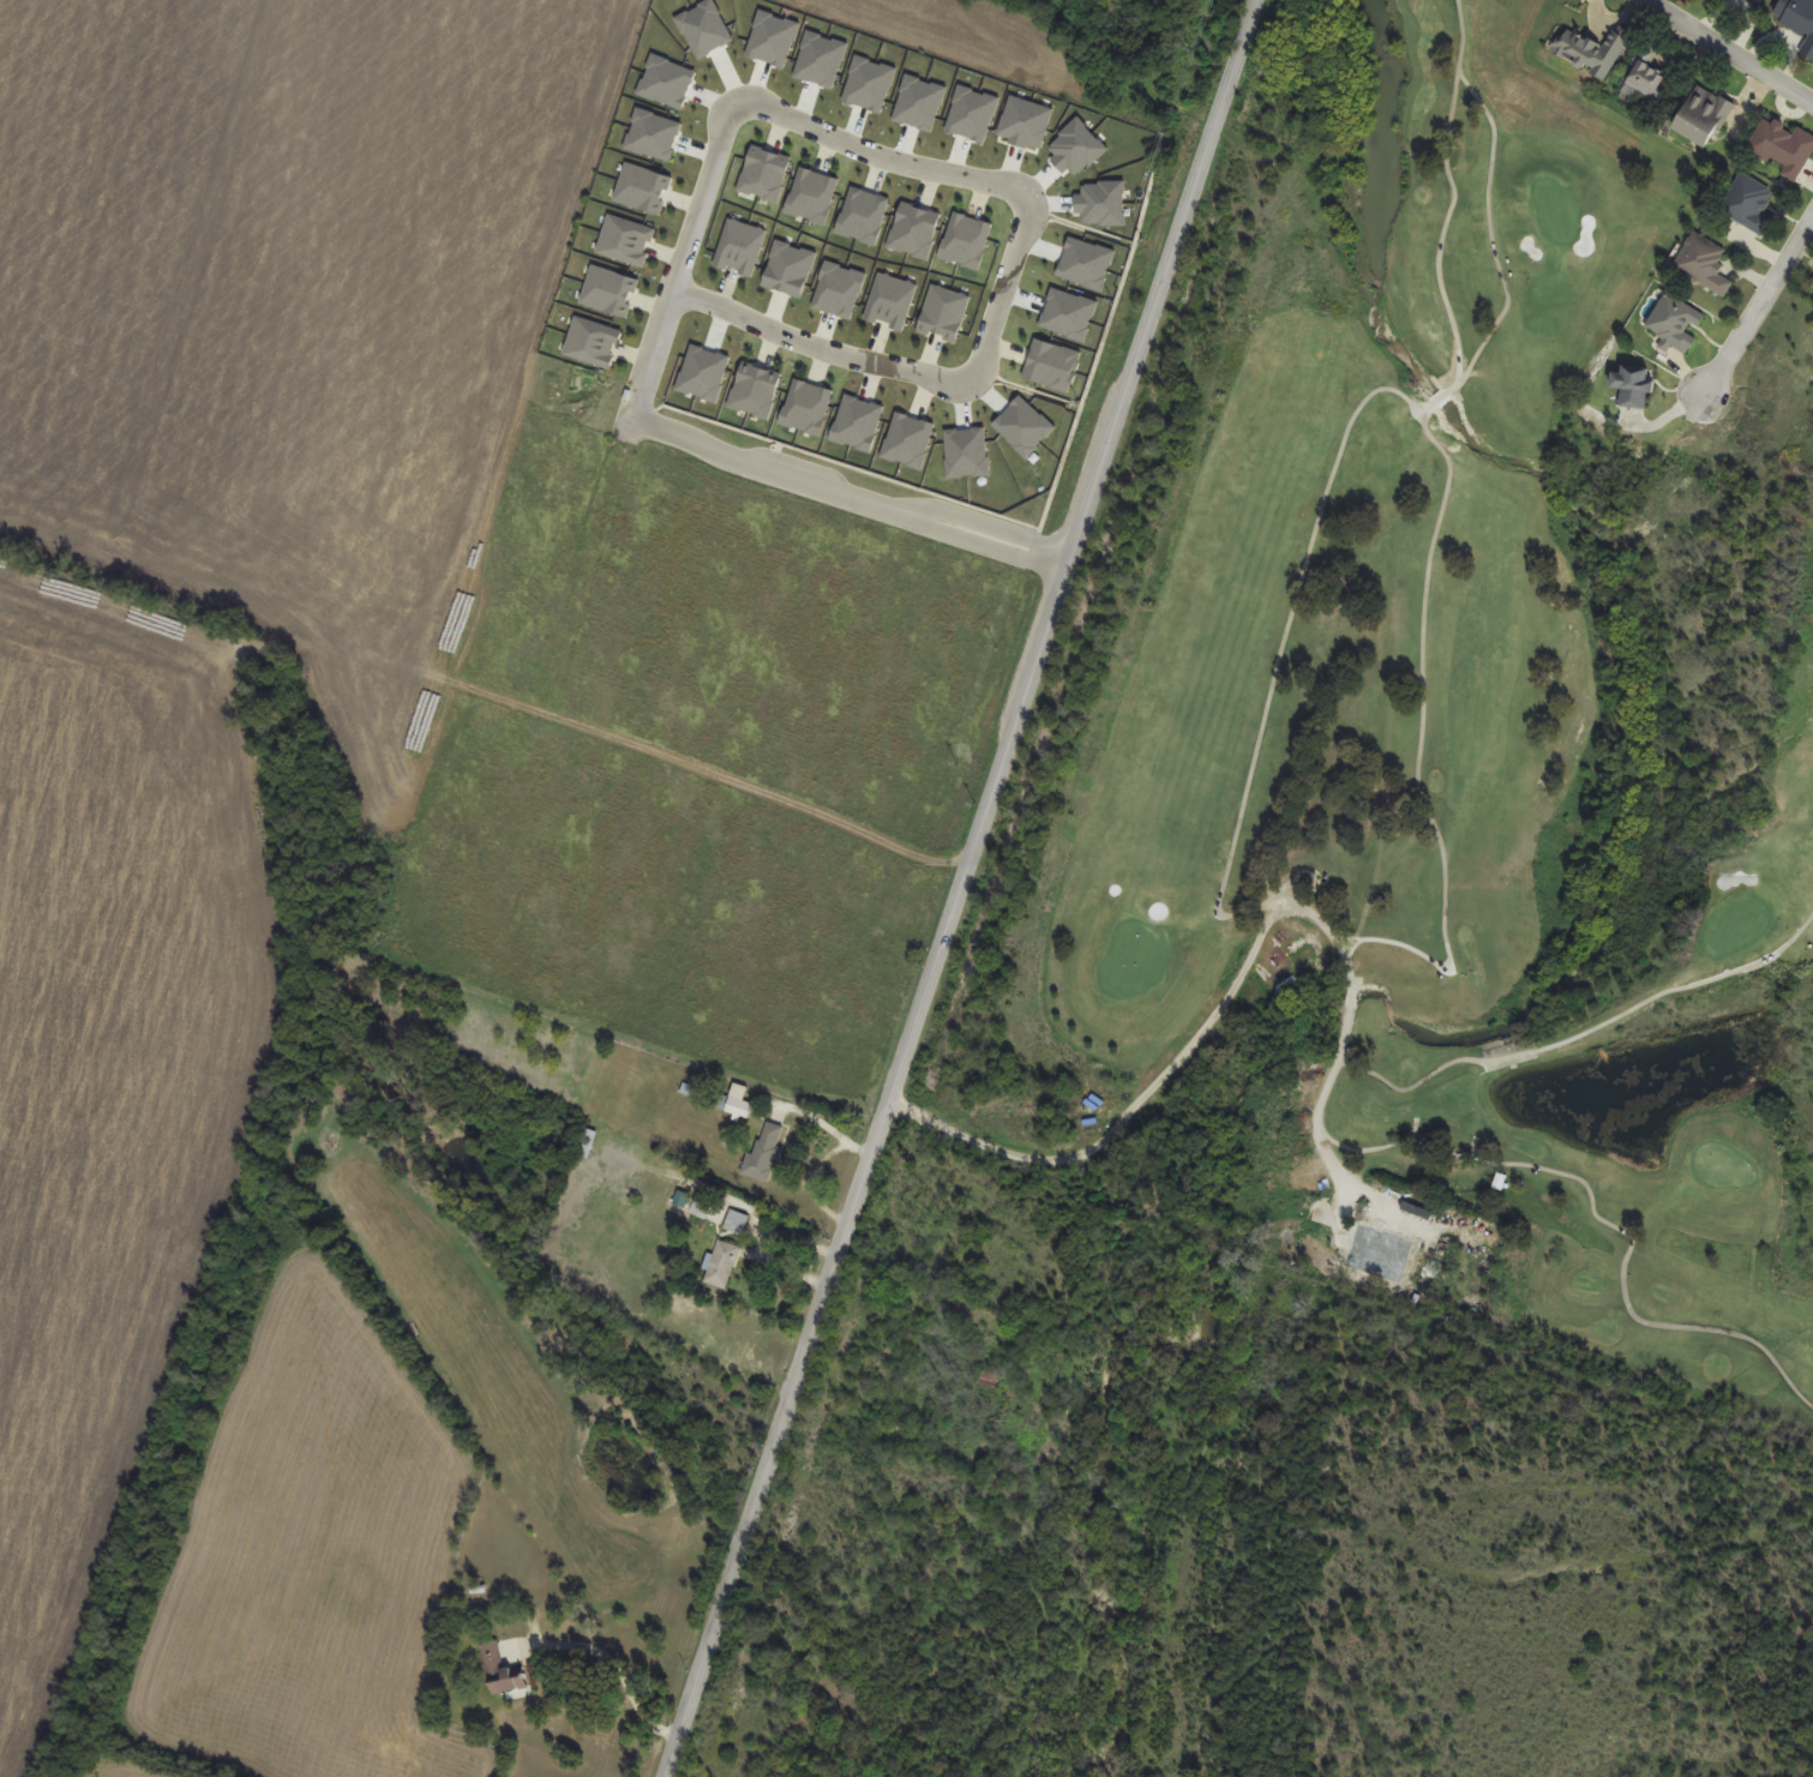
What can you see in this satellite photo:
building: (1761, 0)
building: (1719, 1)
building: (1742, 6)
building: (1797, 28)
road: (1728, 50)
building: (1593, 61)
building: (1651, 86)
building: (1700, 118)
building: (1777, 144)
road: (880, 158)
road: (1487, 200)
building: (1747, 205)
road: (1442, 226)
road: (678, 258)
building: (1705, 269)
road: (1005, 292)
road: (1753, 312)
building: (1675, 324)
road: (815, 347)
building: (1644, 394)
road: (847, 493)
park: (1477, 656)
road: (1277, 667)
road: (1417, 744)
road: (961, 889)
road: (1305, 911)
road: (1580, 1033)
building: (738, 1104)
road: (823, 1125)
building: (588, 1143)
building: (764, 1152)
road: (1602, 1218)
building: (737, 1223)
road: (763, 1245)
building: (1379, 1255)
building: (722, 1265)
road: (619, 1669)
building: (502, 1671)

